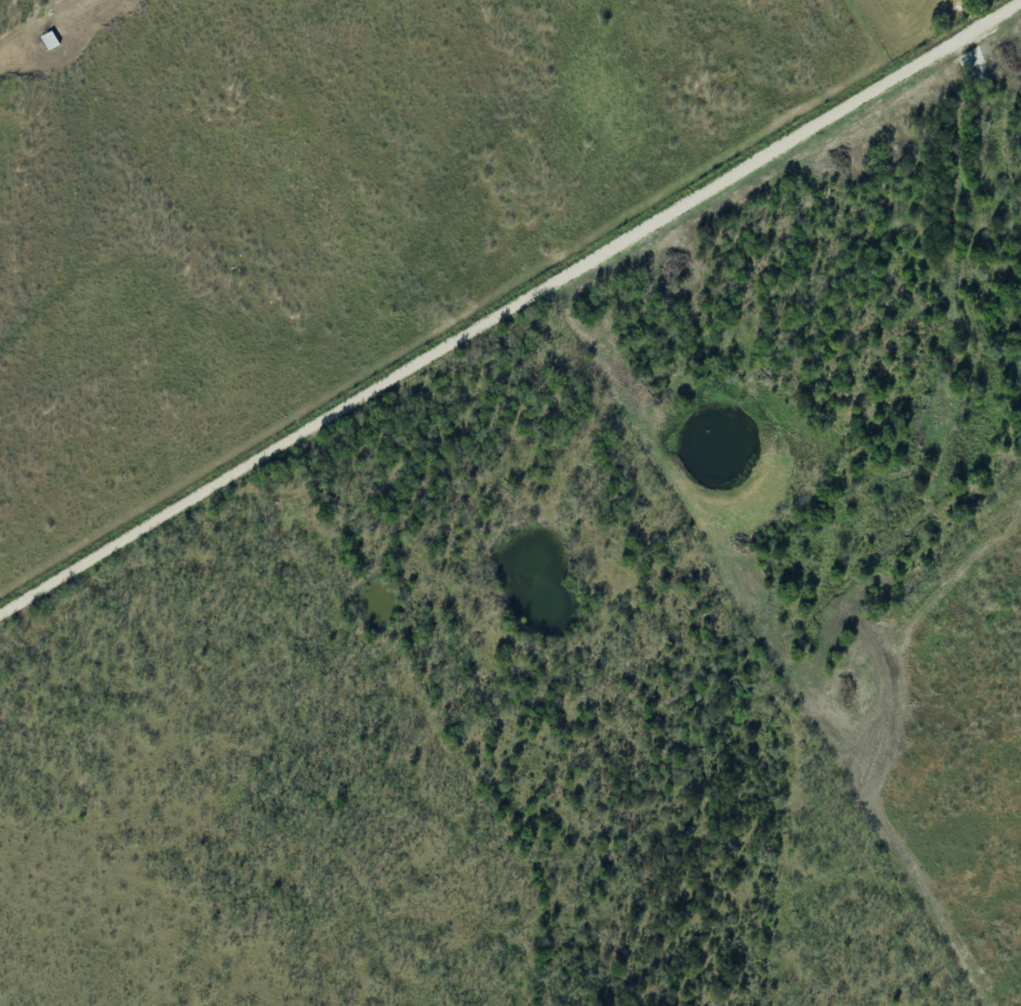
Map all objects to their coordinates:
road: (509, 311)

